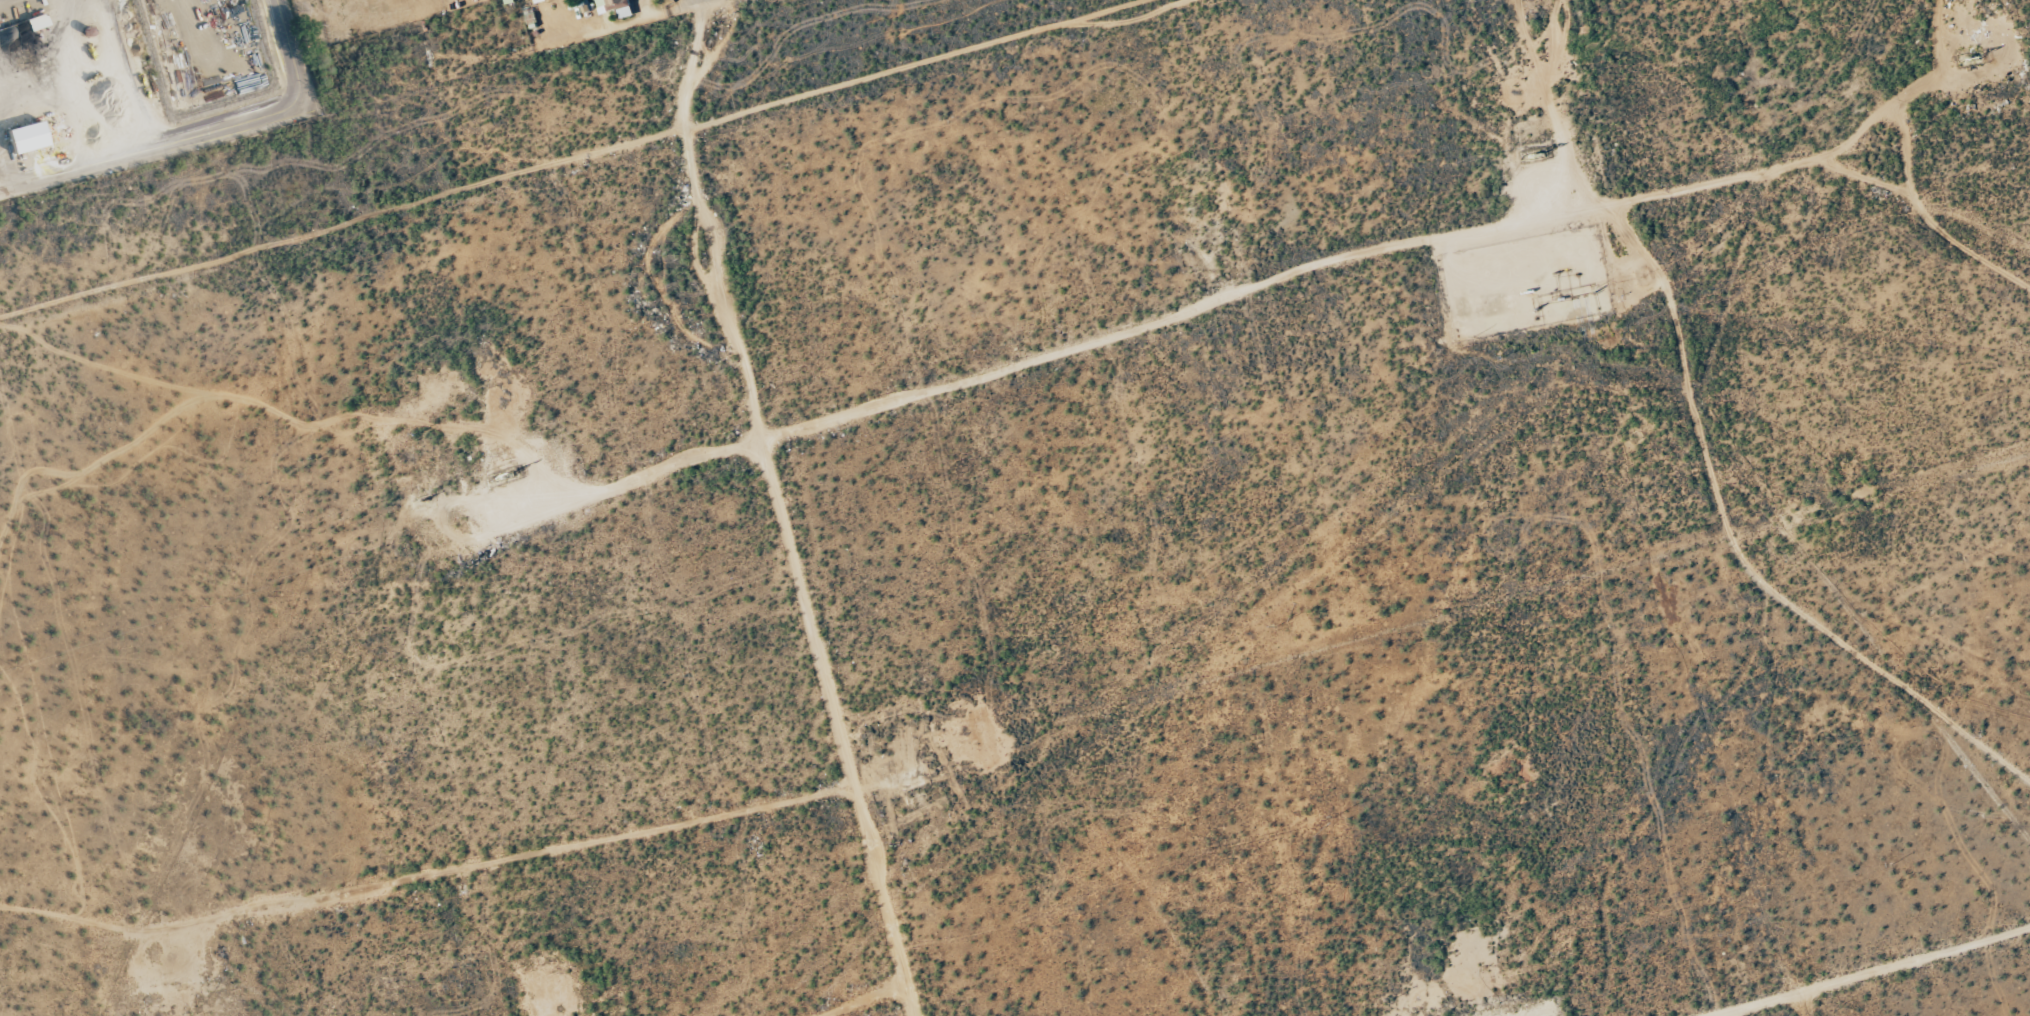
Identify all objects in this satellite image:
building: (542, 1)
road: (199, 131)
building: (29, 138)
road: (785, 510)

